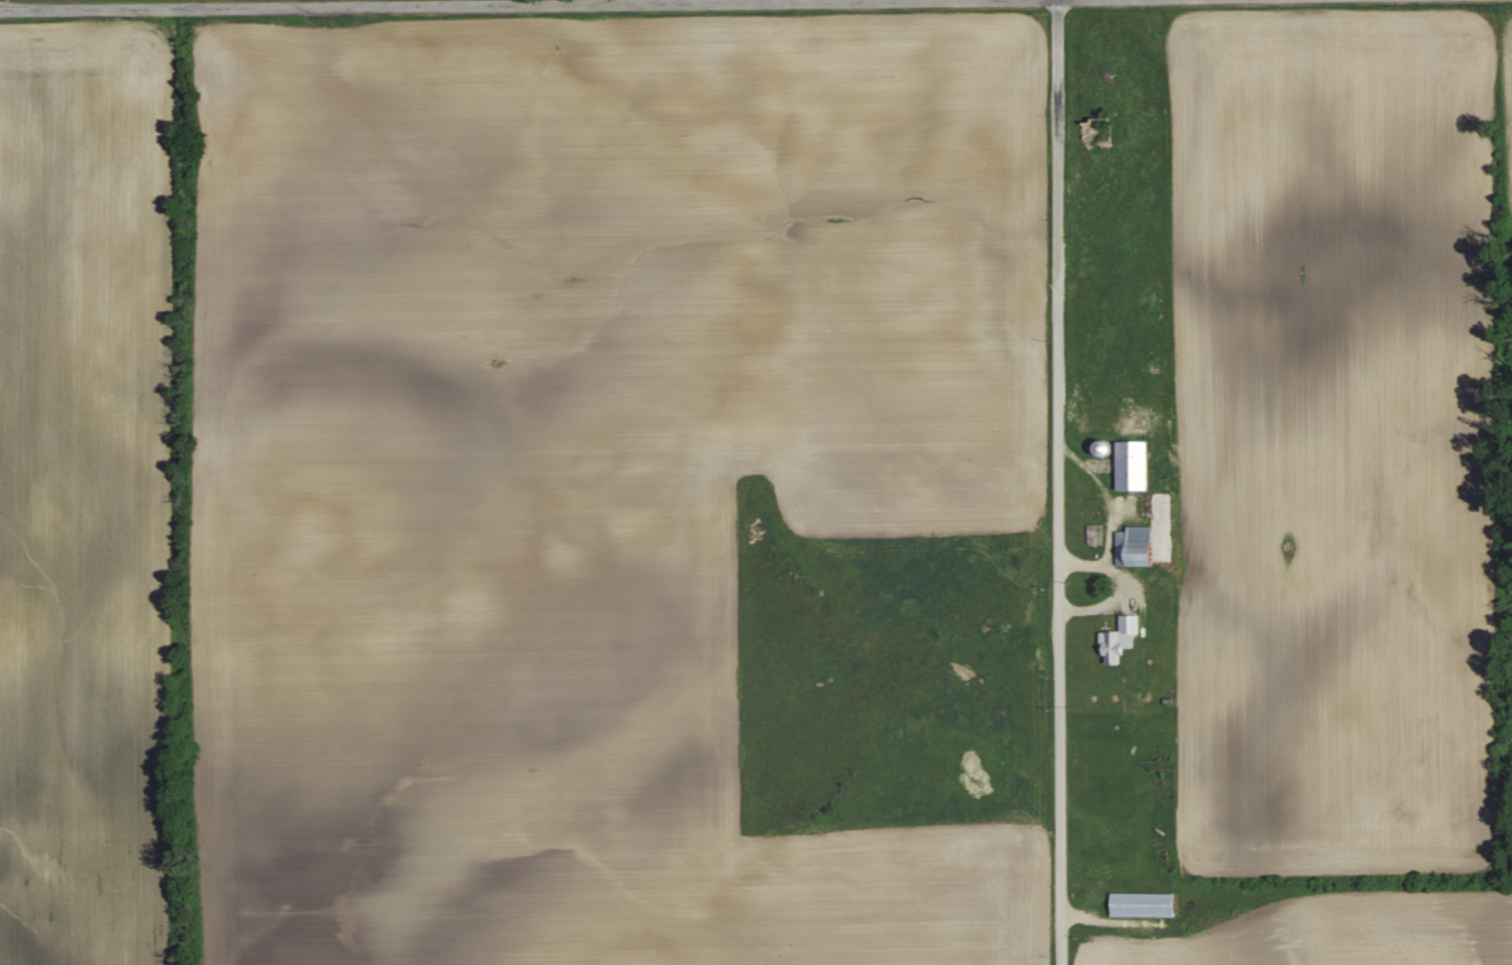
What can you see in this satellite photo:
road: (314, 2)
building: (1099, 126)
building: (1101, 447)
building: (1133, 464)
road: (1059, 482)
building: (1095, 534)
building: (1135, 546)
building: (1120, 639)
building: (1143, 904)

